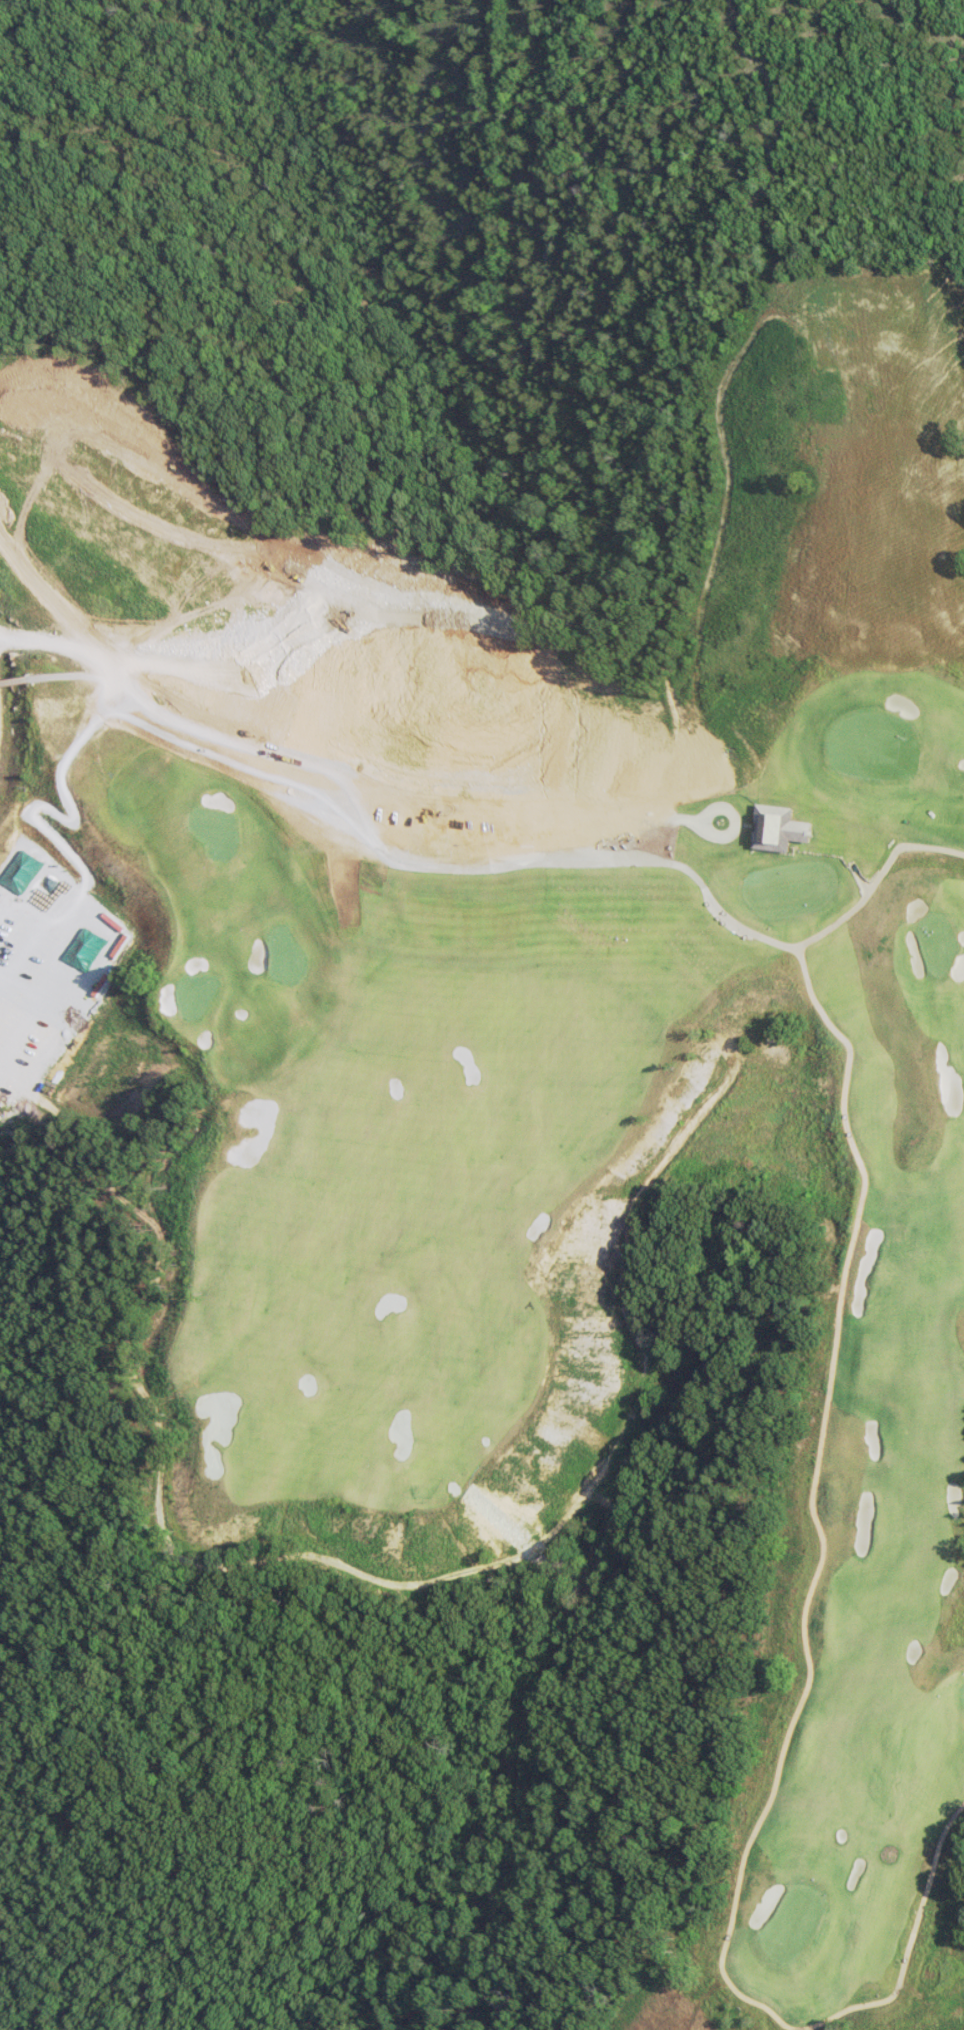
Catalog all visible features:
building: (785, 829)
road: (19, 991)

